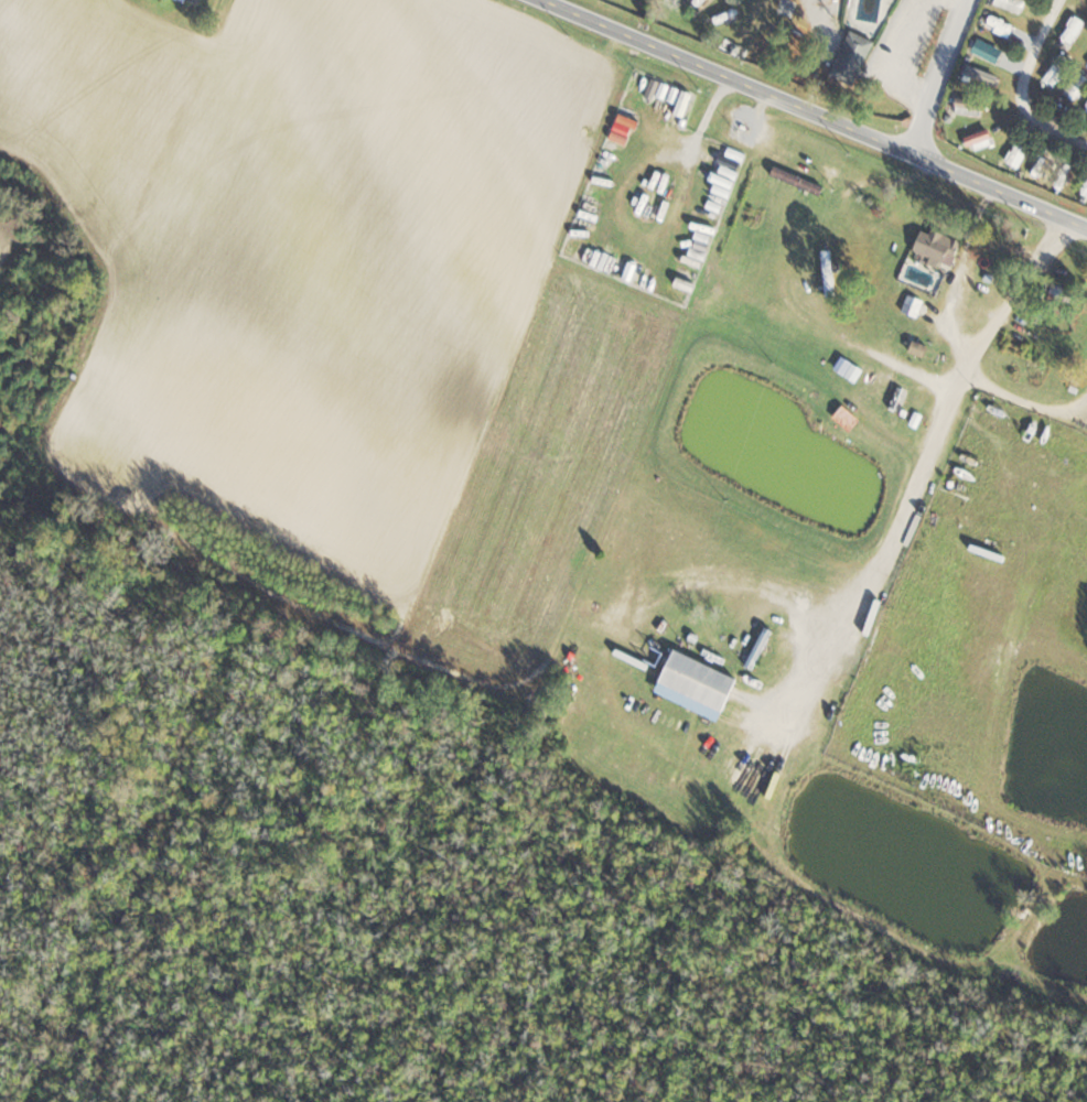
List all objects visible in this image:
building: (190, 0)
building: (1012, 4)
building: (1074, 30)
building: (987, 52)
building: (849, 57)
building: (1056, 72)
building: (975, 75)
road: (946, 76)
road: (1025, 86)
building: (1075, 86)
building: (966, 107)
road: (818, 111)
building: (976, 140)
building: (1034, 171)
building: (1065, 176)
road: (887, 181)
building: (1085, 185)
building: (933, 247)
building: (826, 261)
road: (954, 274)
building: (1056, 294)
building: (912, 306)
road: (900, 368)
road: (1026, 403)
building: (842, 418)
building: (1065, 444)
road: (924, 471)
building: (757, 648)
building: (693, 681)

